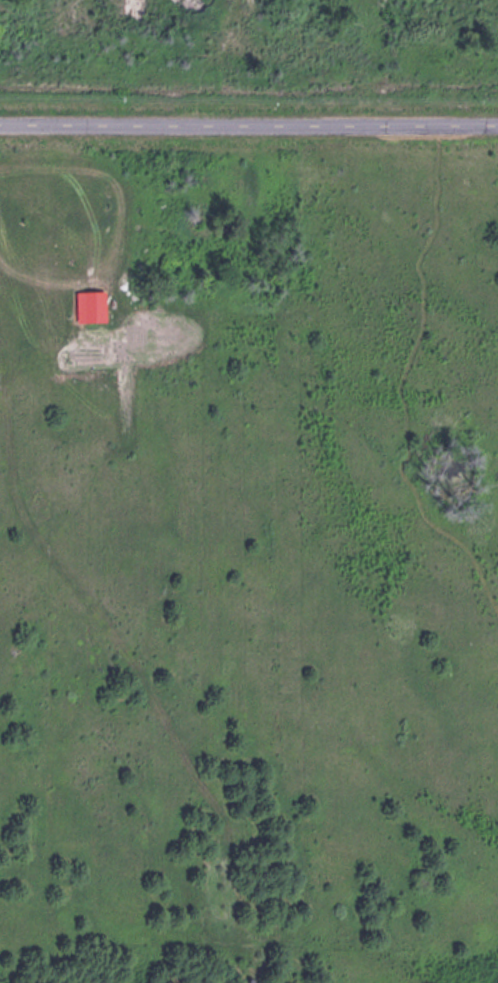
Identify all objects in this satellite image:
road: (248, 124)

